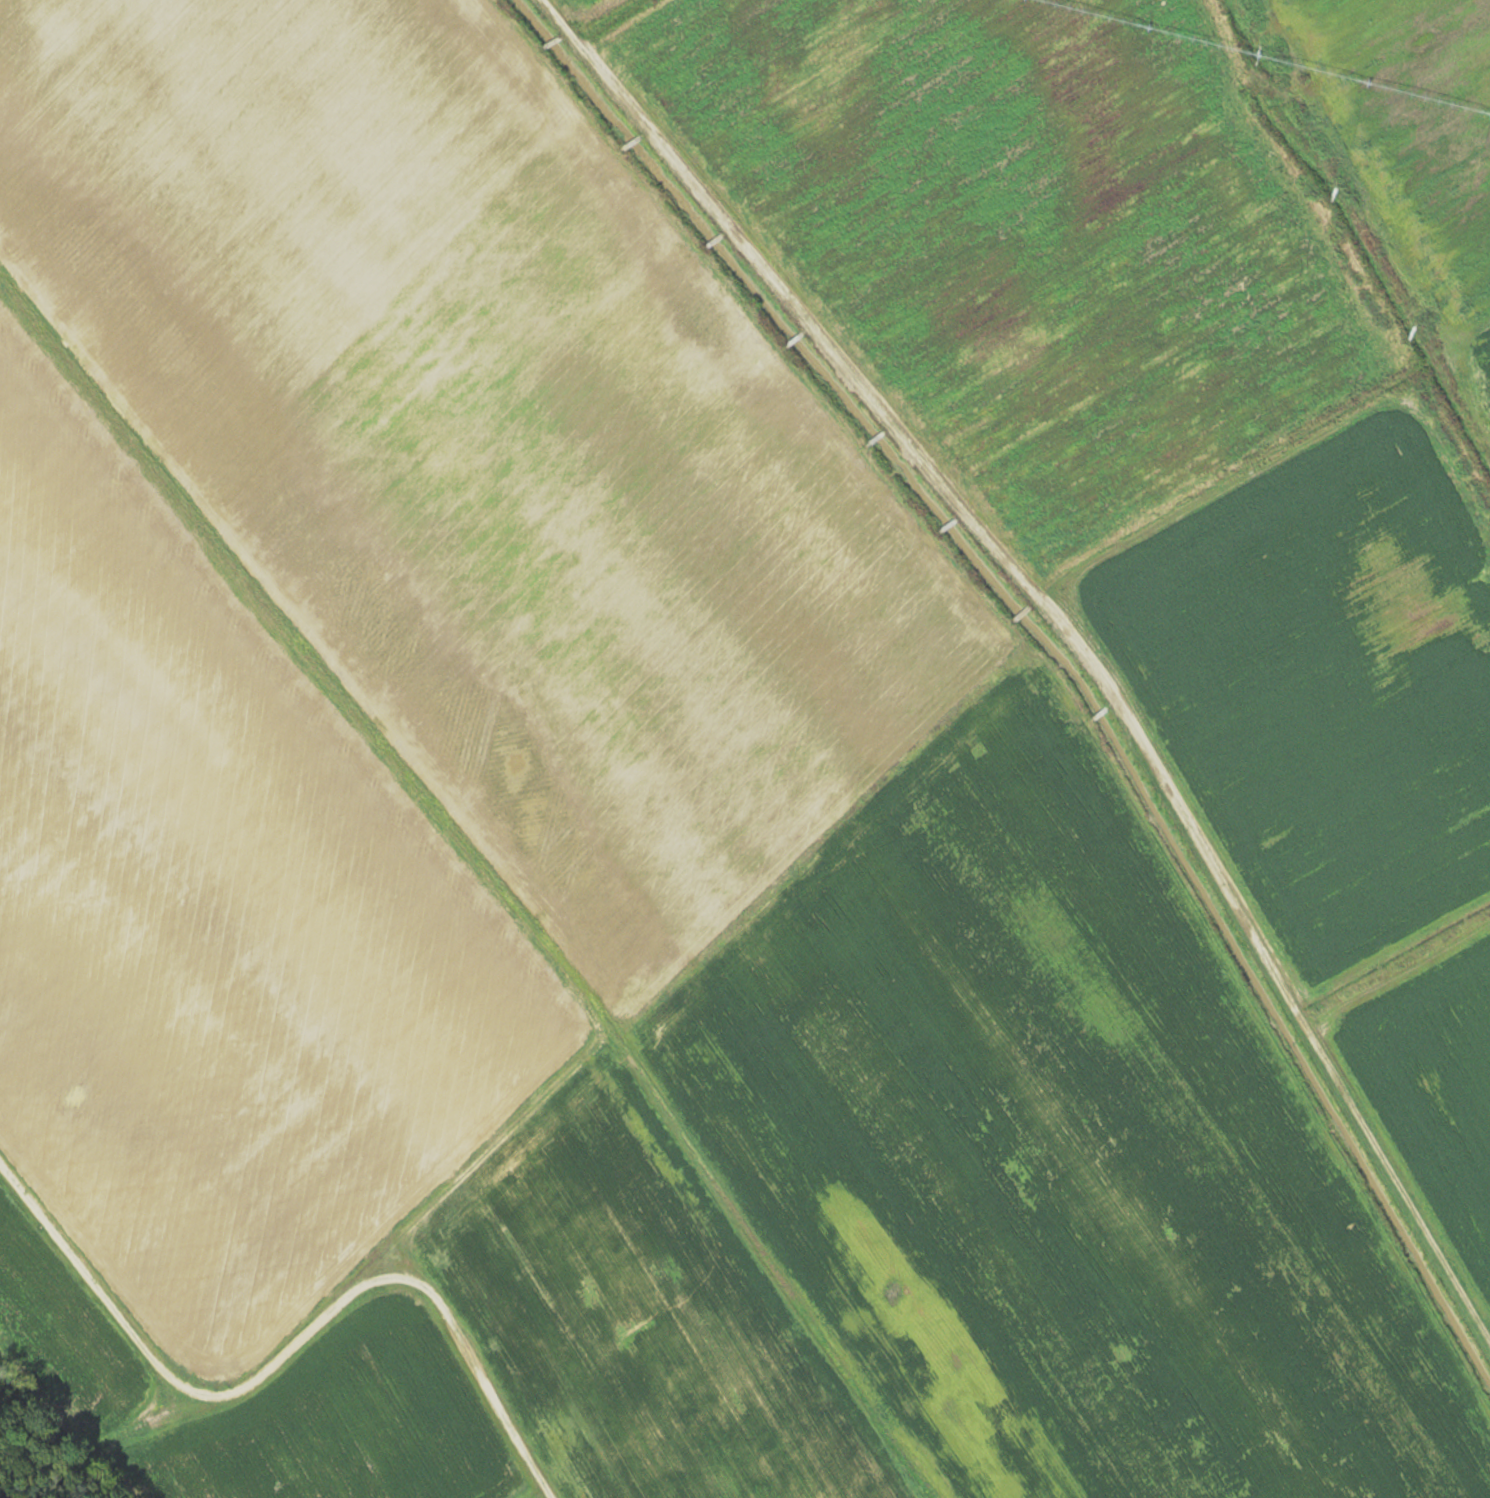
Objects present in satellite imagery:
road: (245, 1240)

